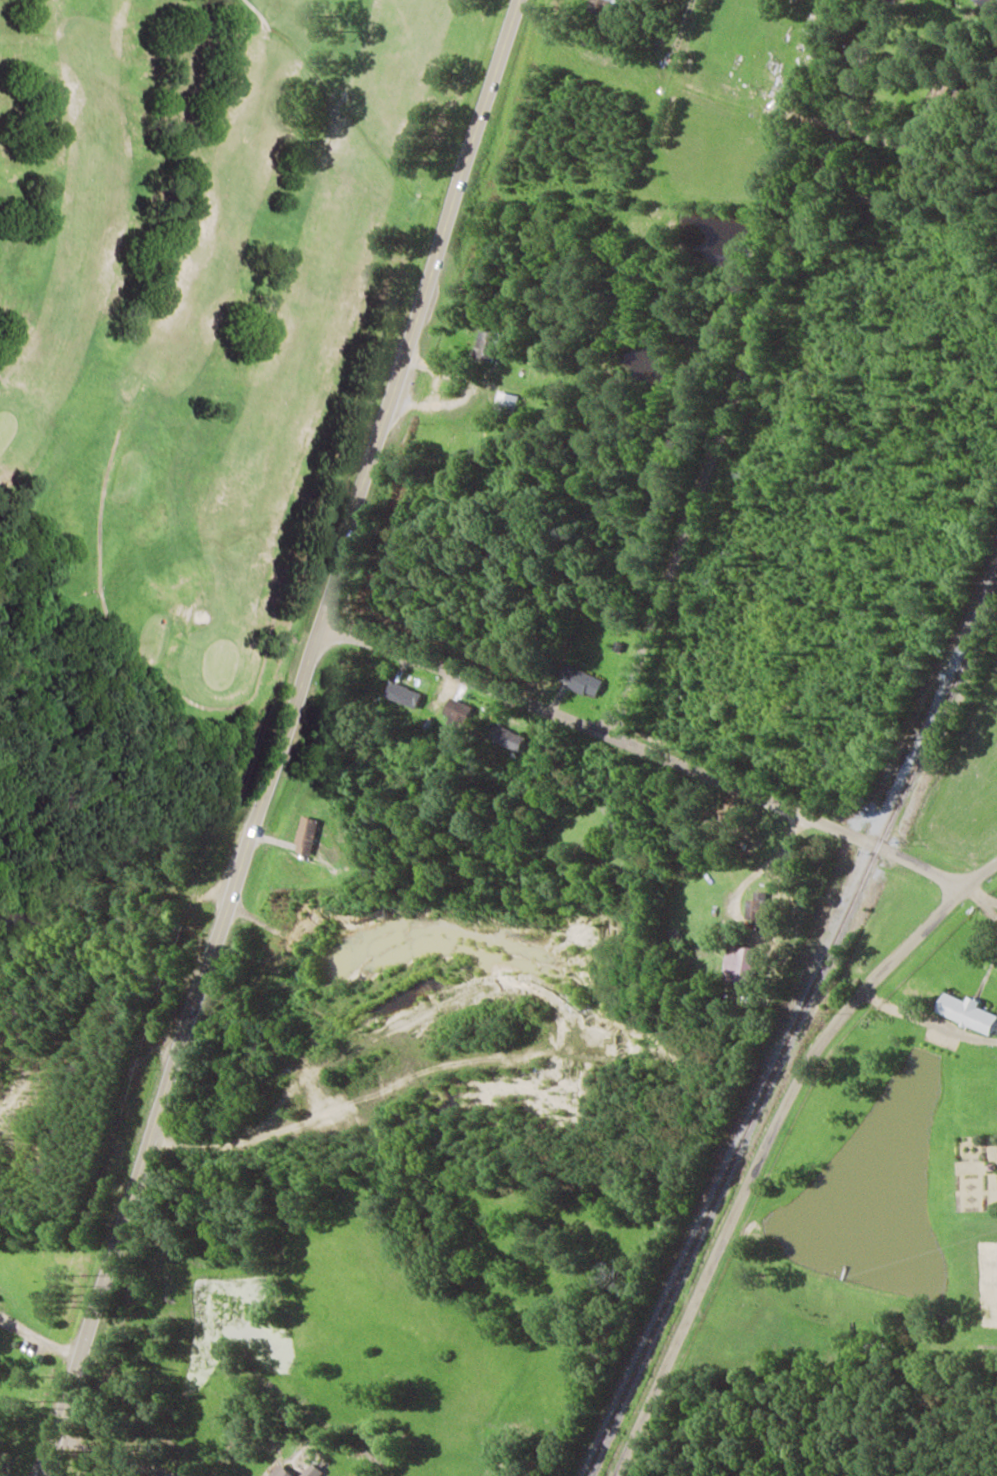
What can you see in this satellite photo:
building: (602, 5)
building: (489, 346)
road: (751, 369)
building: (507, 403)
railway: (975, 618)
building: (581, 681)
building: (405, 695)
building: (460, 711)
road: (281, 737)
building: (507, 737)
road: (665, 756)
building: (306, 835)
road: (727, 840)
building: (757, 905)
road: (690, 918)
building: (967, 1011)
railway: (789, 1029)
road: (767, 1143)
building: (313, 1471)
building: (284, 1472)

